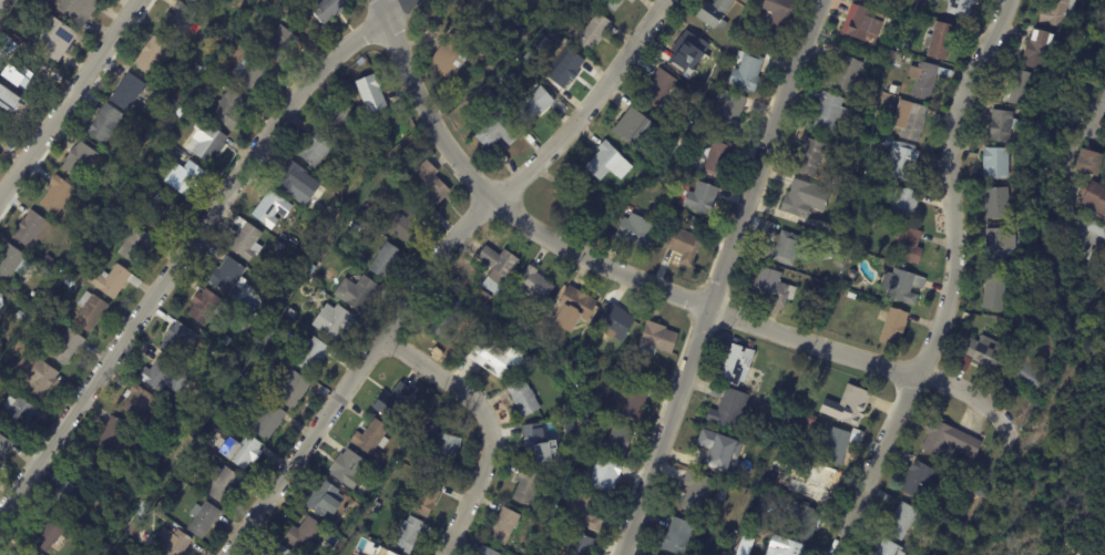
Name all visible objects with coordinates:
building: (198, 1)
building: (884, 2)
building: (931, 2)
building: (286, 4)
building: (613, 4)
building: (961, 7)
building: (79, 9)
building: (327, 9)
building: (478, 11)
building: (1058, 11)
building: (716, 13)
building: (778, 14)
building: (246, 17)
building: (181, 20)
building: (863, 23)
building: (1082, 25)
building: (194, 33)
building: (593, 33)
building: (54, 39)
building: (941, 40)
building: (280, 42)
building: (710, 47)
building: (724, 47)
building: (733, 48)
building: (1041, 49)
building: (688, 50)
building: (153, 55)
building: (452, 56)
building: (483, 58)
building: (715, 58)
building: (898, 60)
building: (11, 64)
building: (539, 66)
building: (198, 68)
building: (563, 68)
building: (749, 70)
building: (252, 74)
building: (847, 74)
building: (512, 78)
building: (228, 79)
building: (717, 79)
building: (927, 79)
building: (502, 85)
building: (659, 88)
building: (1024, 89)
building: (443, 91)
building: (127, 92)
building: (371, 93)
road: (68, 97)
building: (870, 99)
building: (11, 100)
building: (490, 100)
building: (170, 105)
building: (534, 105)
building: (182, 110)
building: (228, 110)
building: (728, 112)
building: (831, 112)
building: (338, 117)
building: (912, 121)
building: (105, 123)
building: (1004, 125)
building: (633, 126)
building: (497, 132)
building: (692, 133)
building: (385, 136)
building: (208, 143)
building: (1017, 144)
building: (315, 148)
building: (713, 153)
building: (358, 156)
building: (811, 156)
building: (80, 160)
building: (903, 161)
road: (1066, 161)
building: (130, 163)
building: (608, 163)
building: (997, 163)
building: (1091, 163)
building: (392, 171)
building: (123, 174)
building: (883, 175)
building: (185, 178)
building: (293, 178)
building: (431, 186)
building: (57, 195)
building: (703, 198)
building: (1095, 198)
building: (806, 199)
building: (572, 201)
building: (318, 203)
building: (904, 203)
building: (995, 203)
building: (665, 207)
building: (269, 210)
building: (160, 213)
building: (1104, 219)
building: (402, 223)
building: (610, 224)
building: (357, 225)
building: (1098, 229)
building: (32, 230)
building: (637, 230)
building: (245, 240)
building: (294, 243)
building: (135, 244)
road: (190, 244)
building: (88, 245)
building: (684, 245)
building: (279, 246)
building: (910, 246)
building: (1001, 246)
building: (788, 249)
building: (1095, 256)
building: (49, 259)
building: (387, 261)
building: (13, 264)
road: (430, 265)
building: (841, 265)
building: (498, 268)
building: (227, 274)
building: (852, 274)
road: (719, 276)
building: (63, 278)
road: (643, 279)
building: (113, 280)
building: (314, 281)
building: (69, 282)
building: (845, 284)
road: (950, 284)
building: (535, 285)
building: (902, 286)
building: (773, 288)
building: (823, 291)
building: (841, 291)
building: (995, 291)
building: (357, 292)
building: (0, 296)
building: (852, 296)
building: (485, 297)
building: (205, 305)
building: (575, 309)
building: (90, 311)
building: (291, 314)
building: (20, 316)
building: (448, 320)
building: (334, 321)
building: (247, 326)
building: (615, 326)
building: (1024, 327)
building: (896, 328)
building: (176, 339)
building: (657, 339)
building: (226, 340)
building: (8, 343)
building: (268, 345)
building: (16, 346)
building: (66, 347)
building: (1025, 348)
building: (310, 353)
building: (489, 354)
building: (982, 354)
building: (573, 360)
building: (186, 366)
building: (738, 366)
building: (621, 368)
building: (1, 370)
building: (1027, 372)
building: (158, 373)
building: (35, 377)
building: (248, 377)
building: (294, 390)
building: (785, 395)
building: (524, 398)
building: (632, 400)
building: (396, 402)
building: (137, 403)
building: (796, 404)
building: (849, 407)
building: (729, 410)
building: (16, 414)
building: (239, 419)
building: (267, 421)
building: (811, 421)
road: (489, 423)
building: (572, 430)
building: (113, 436)
building: (371, 438)
building: (617, 441)
building: (950, 441)
building: (534, 442)
building: (838, 444)
building: (442, 445)
building: (4, 446)
building: (239, 450)
building: (718, 450)
building: (411, 452)
building: (581, 455)
building: (190, 460)
building: (388, 467)
building: (95, 470)
building: (348, 470)
building: (604, 476)
building: (920, 481)
building: (222, 484)
building: (821, 485)
building: (529, 487)
building: (976, 491)
building: (697, 492)
building: (64, 499)
building: (427, 499)
building: (367, 500)
building: (327, 501)
building: (352, 502)
building: (162, 506)
building: (377, 506)
building: (585, 513)
building: (748, 517)
building: (204, 521)
building: (804, 522)
building: (904, 522)
building: (505, 524)
building: (704, 526)
building: (540, 528)
building: (47, 533)
building: (366, 533)
building: (307, 535)
building: (408, 535)
building: (679, 537)
building: (172, 543)
building: (580, 545)
building: (746, 546)
building: (786, 546)
building: (890, 548)
building: (22, 552)
building: (284, 552)
building: (485, 552)
building: (392, 554)

